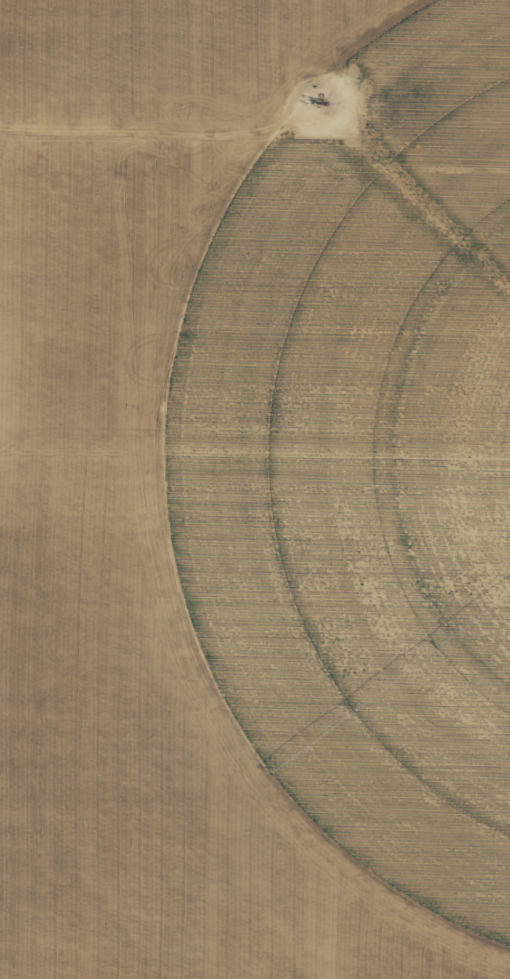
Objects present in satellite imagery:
petroleum well: (319, 103)

